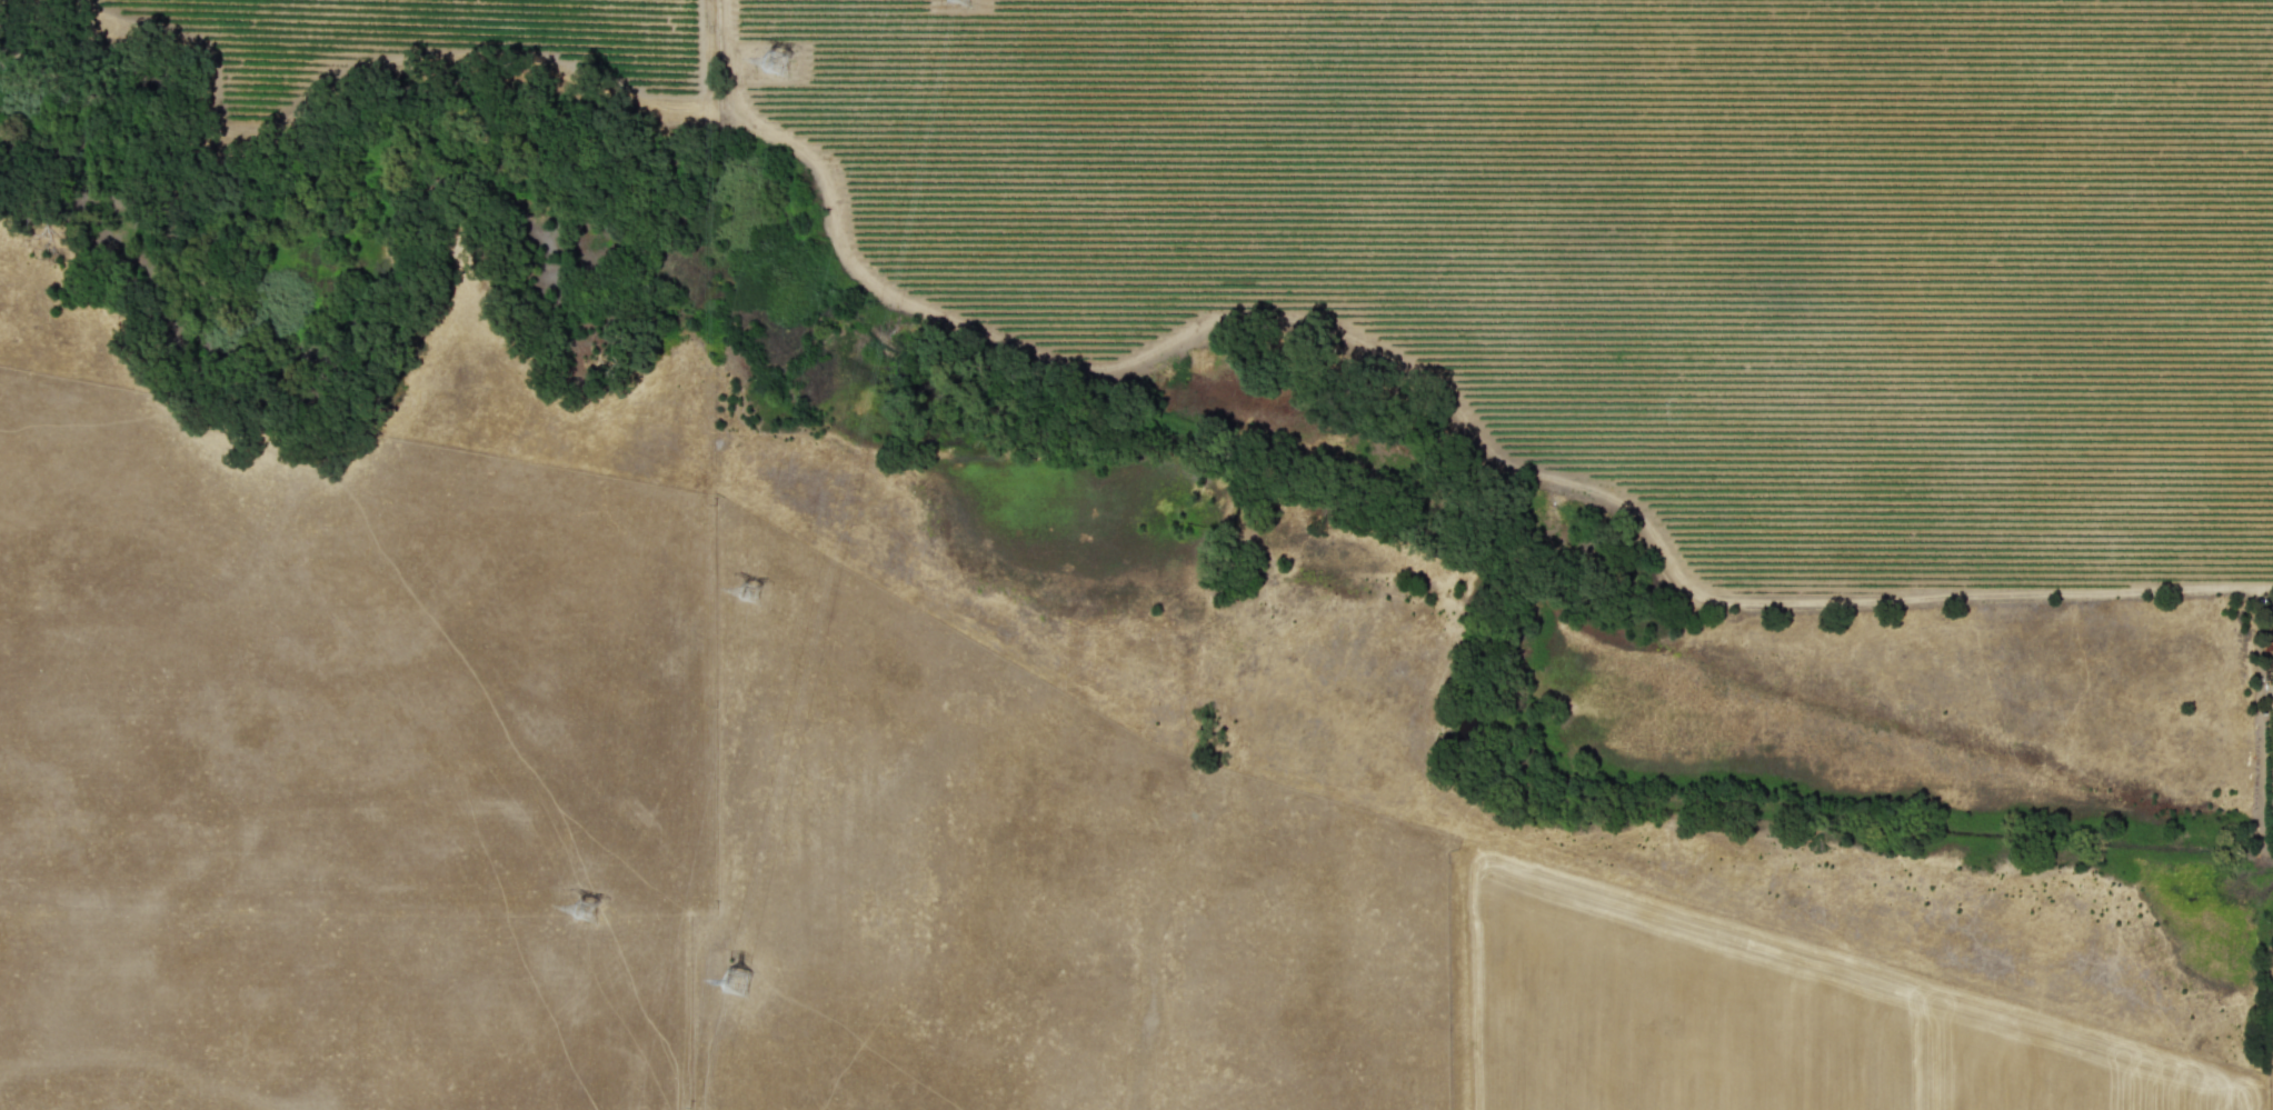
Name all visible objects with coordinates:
power tower: (774, 61)
crop: (1921, 552)
power tower: (741, 589)
power tower: (587, 904)
power tower: (742, 981)

